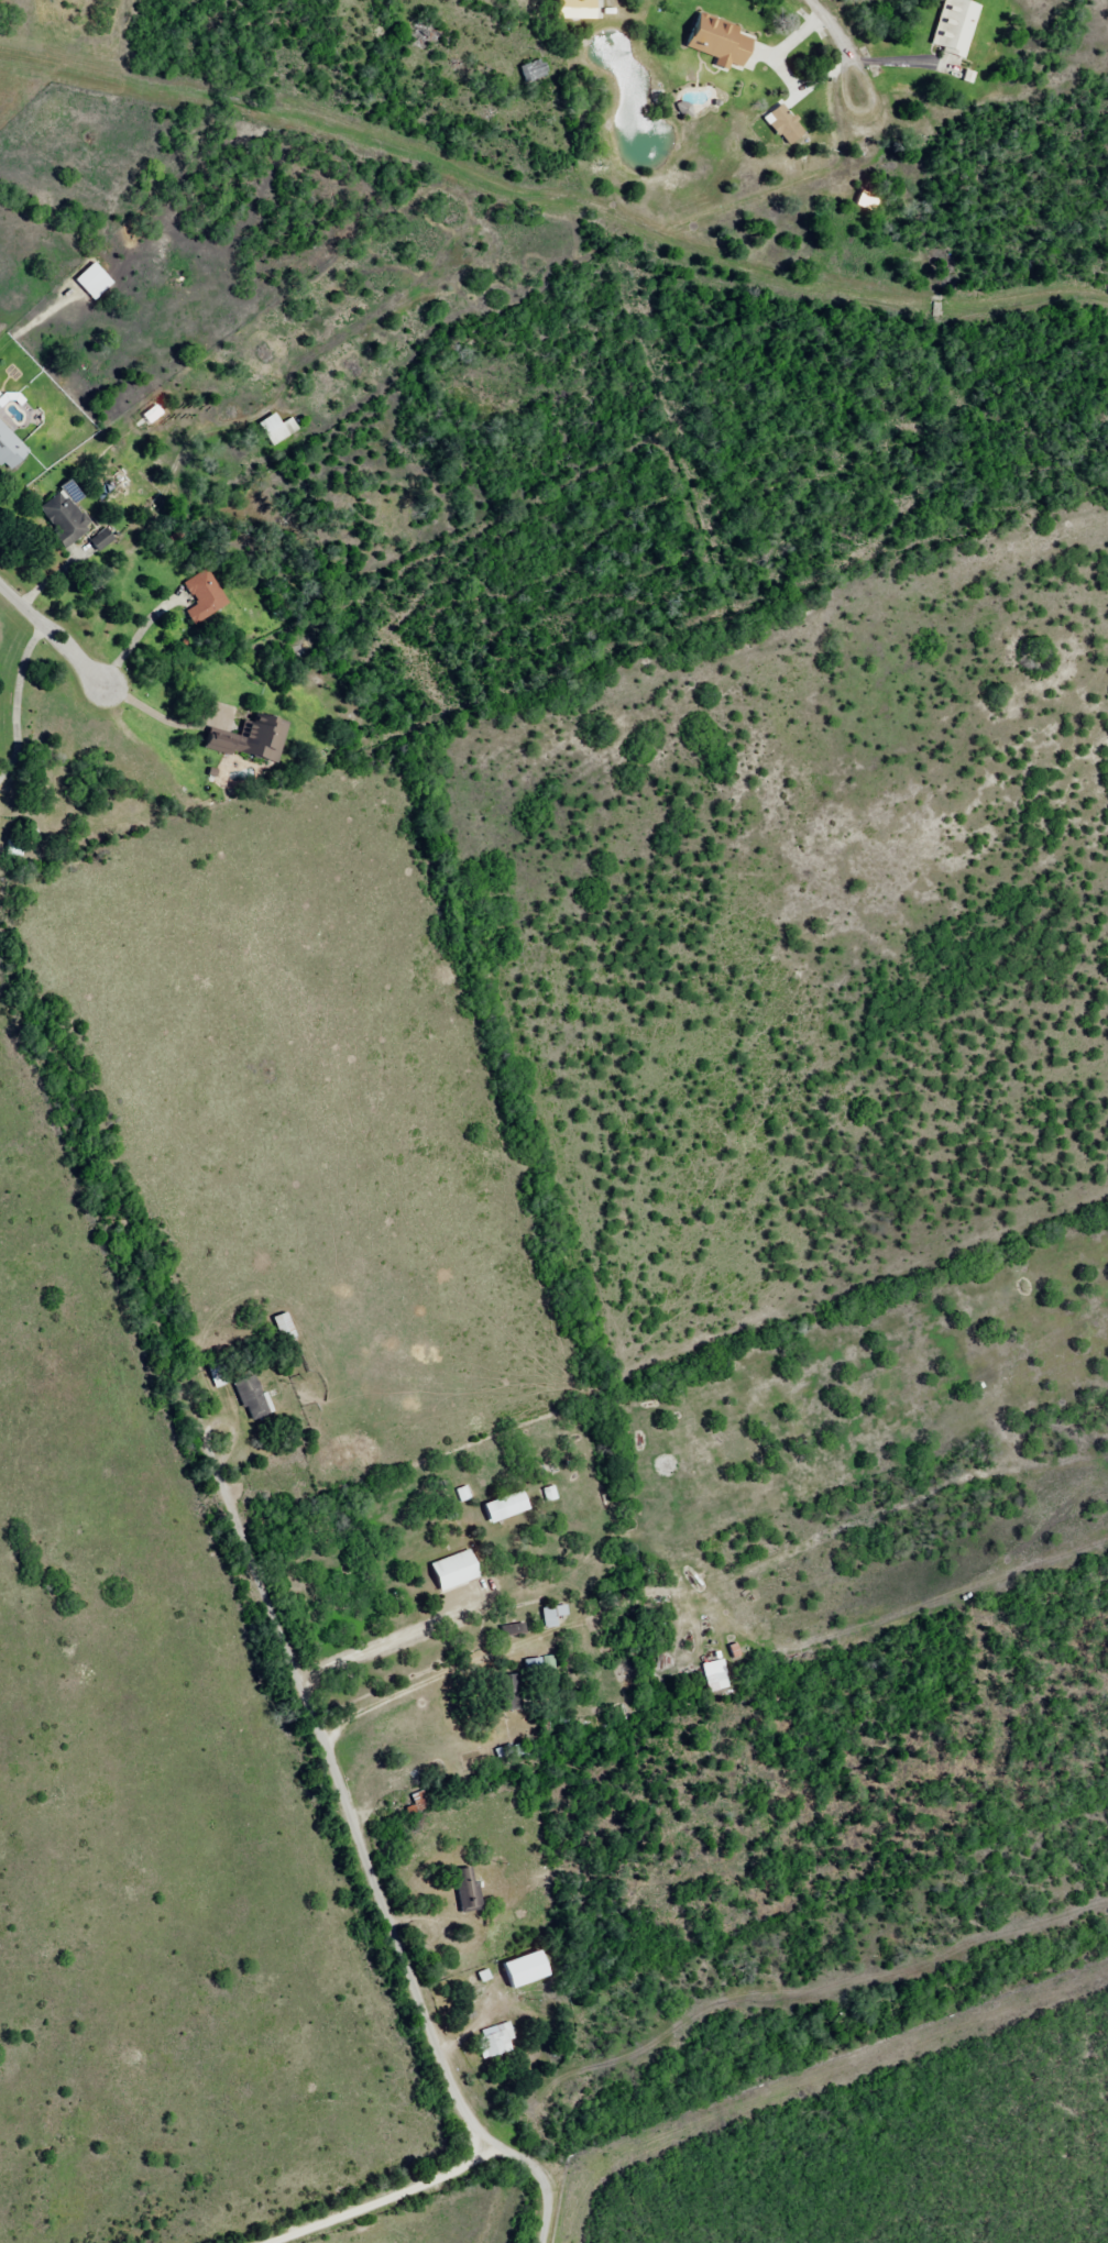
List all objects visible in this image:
building: (278, 429)
road: (51, 633)
building: (511, 1506)
building: (459, 1569)
building: (553, 1616)
road: (376, 1876)
building: (497, 2041)
road: (329, 2189)

